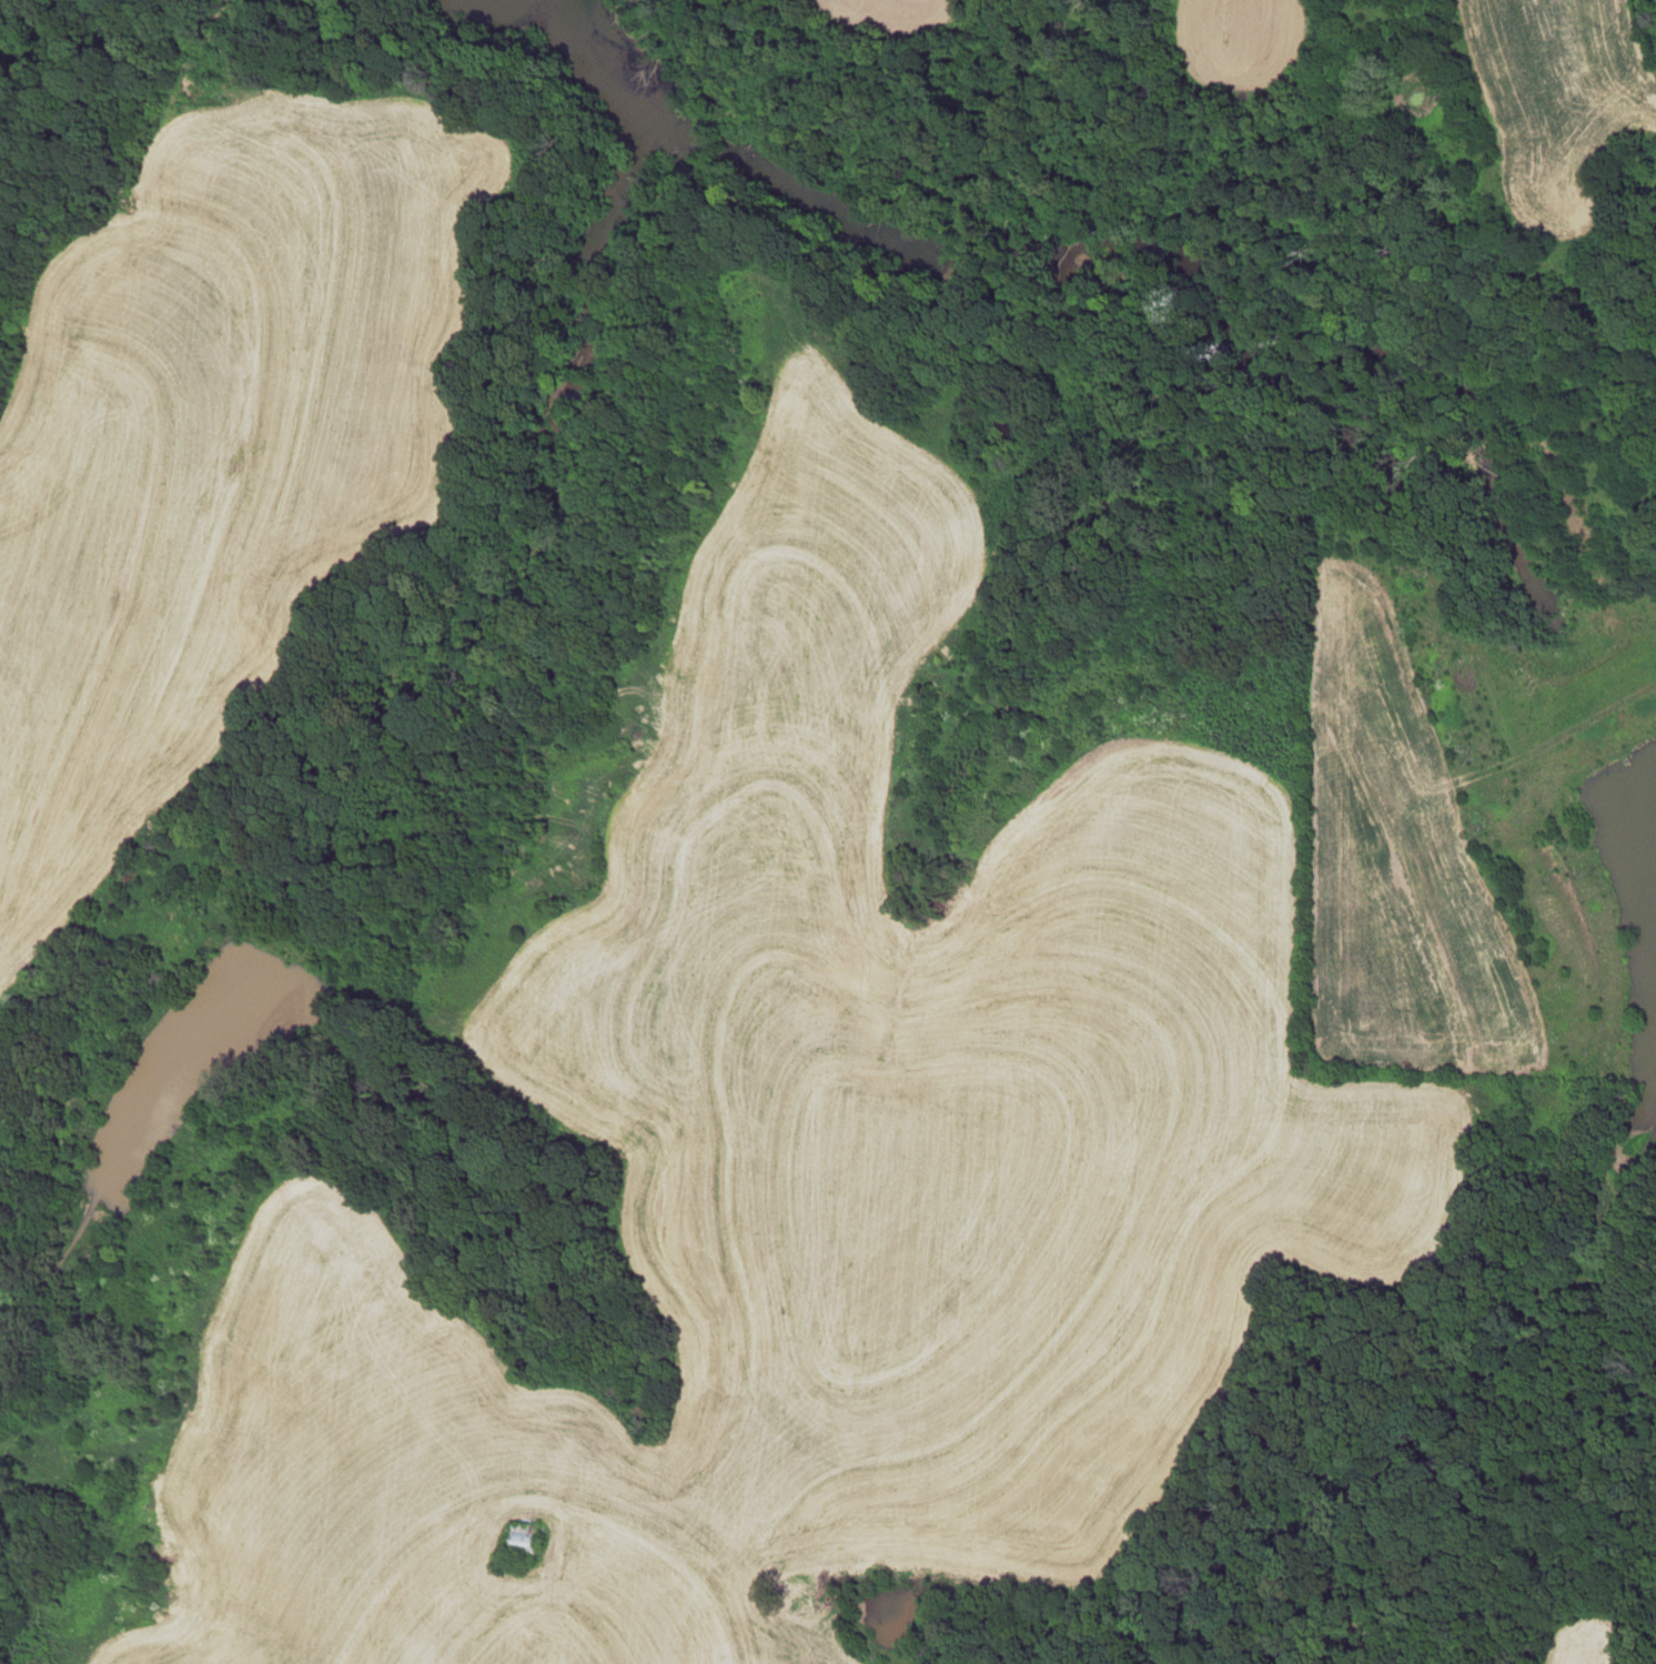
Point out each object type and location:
building: (524, 1542)

